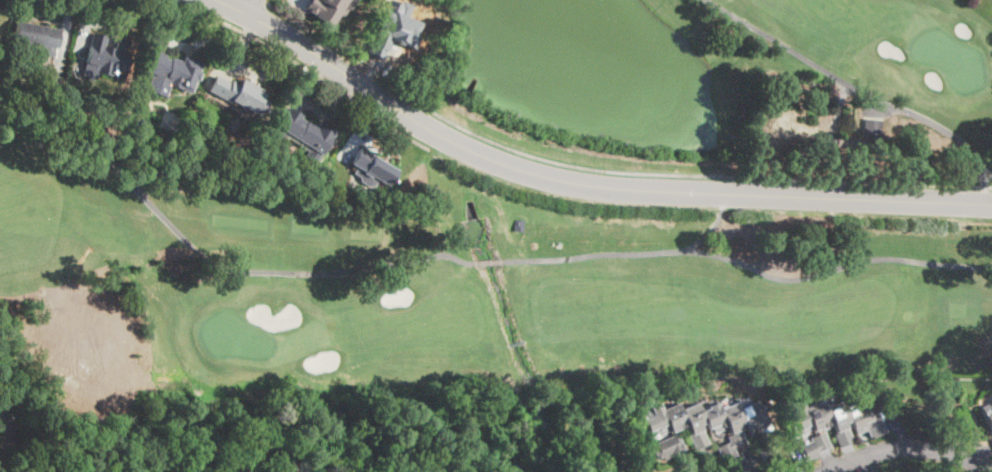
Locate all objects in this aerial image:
road: (266, 0)
road: (252, 7)
building: (326, 9)
road: (89, 24)
road: (65, 28)
building: (398, 31)
building: (37, 38)
building: (107, 55)
road: (303, 64)
park: (857, 65)
building: (169, 72)
building: (240, 94)
building: (872, 126)
building: (305, 133)
building: (373, 166)
road: (607, 169)
road: (581, 184)
building: (520, 225)
park: (462, 279)
building: (988, 413)
building: (833, 419)
building: (702, 426)
building: (814, 446)
road: (917, 448)
building: (768, 450)
building: (101, 466)

